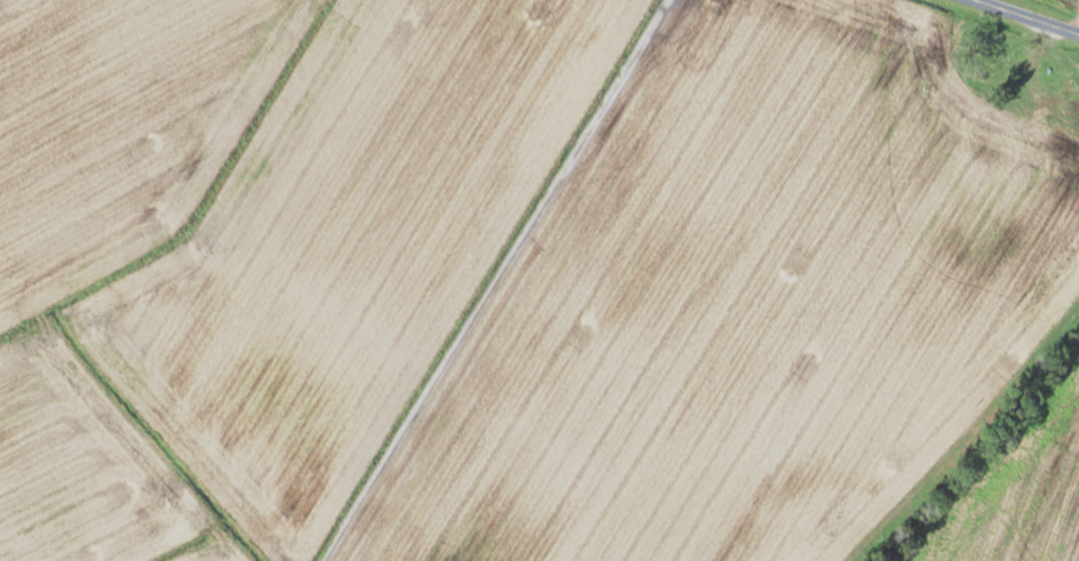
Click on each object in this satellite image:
road: (1036, 13)

